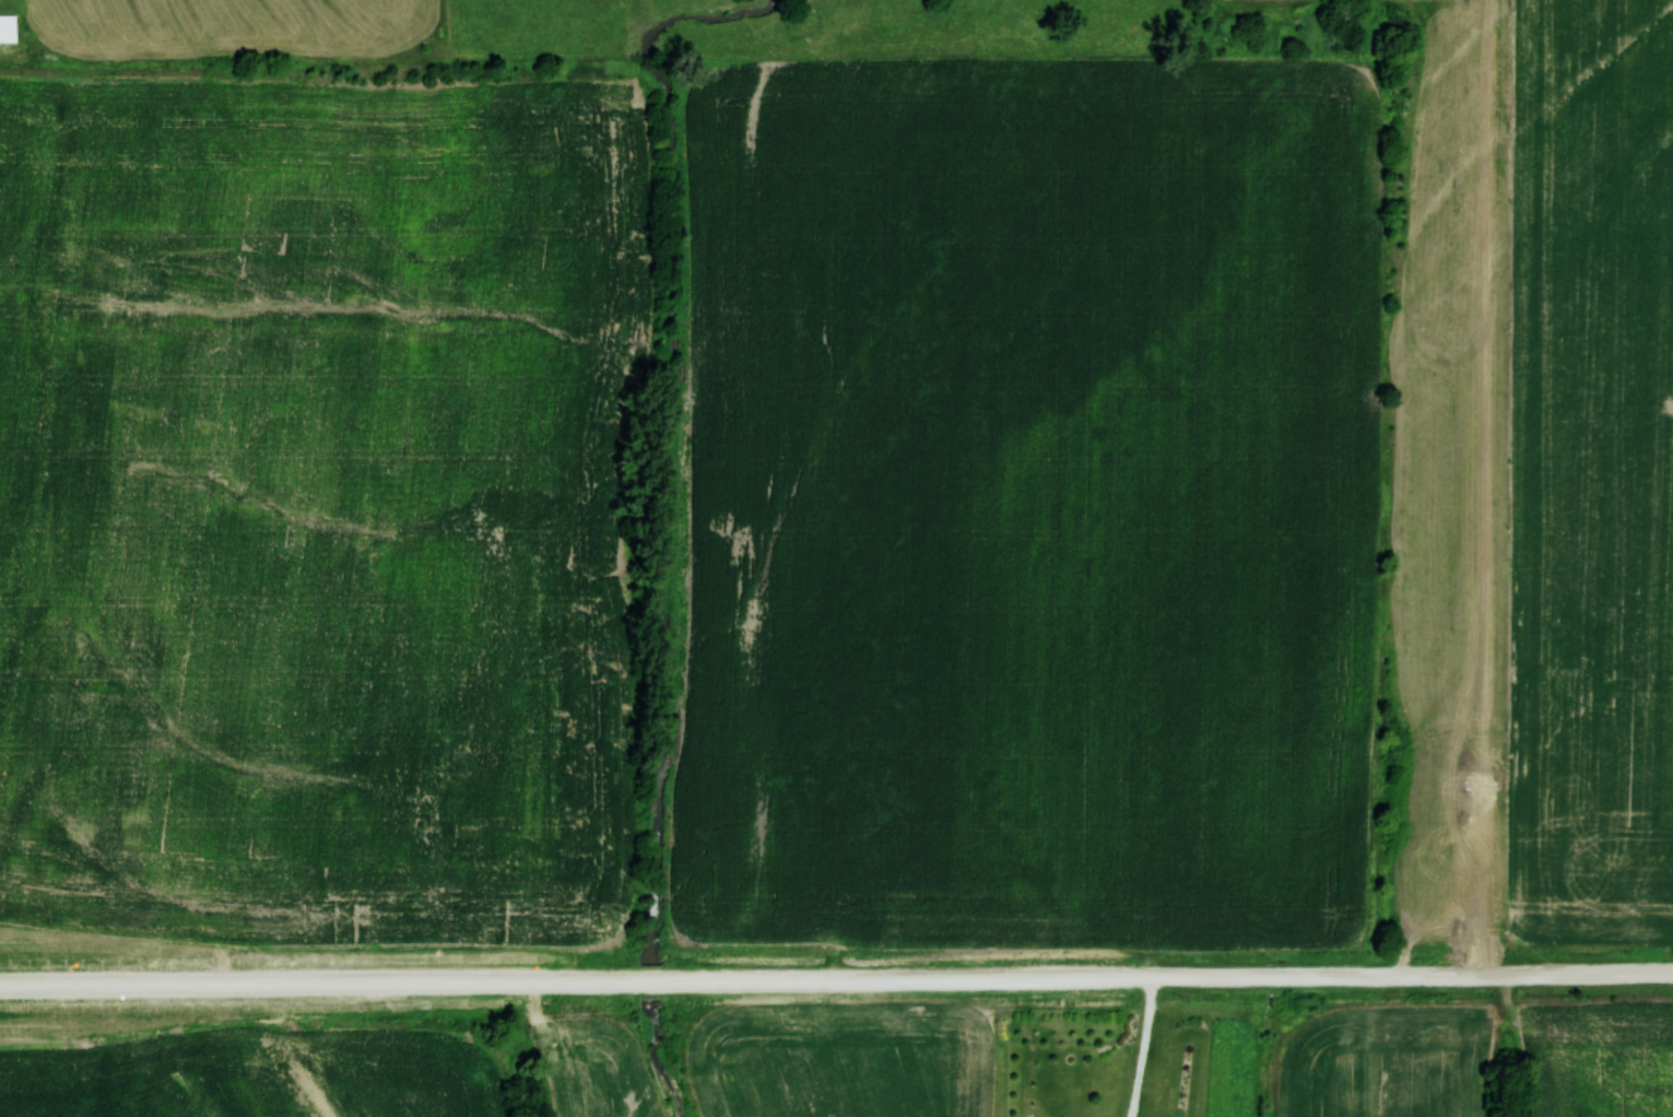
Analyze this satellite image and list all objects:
building: (8, 27)
road: (1481, 487)
crop: (1030, 507)
crop: (325, 519)
road: (836, 980)

